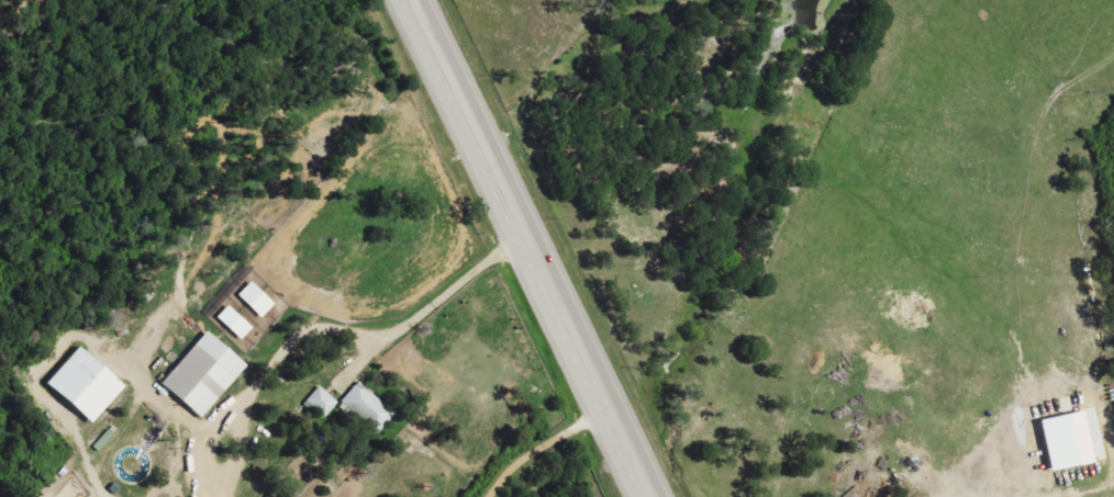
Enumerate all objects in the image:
road: (16, 10)
road: (531, 248)
building: (257, 300)
building: (236, 323)
road: (370, 337)
building: (205, 374)
building: (89, 384)
building: (323, 402)
building: (369, 407)
building: (1069, 440)
road: (542, 445)

